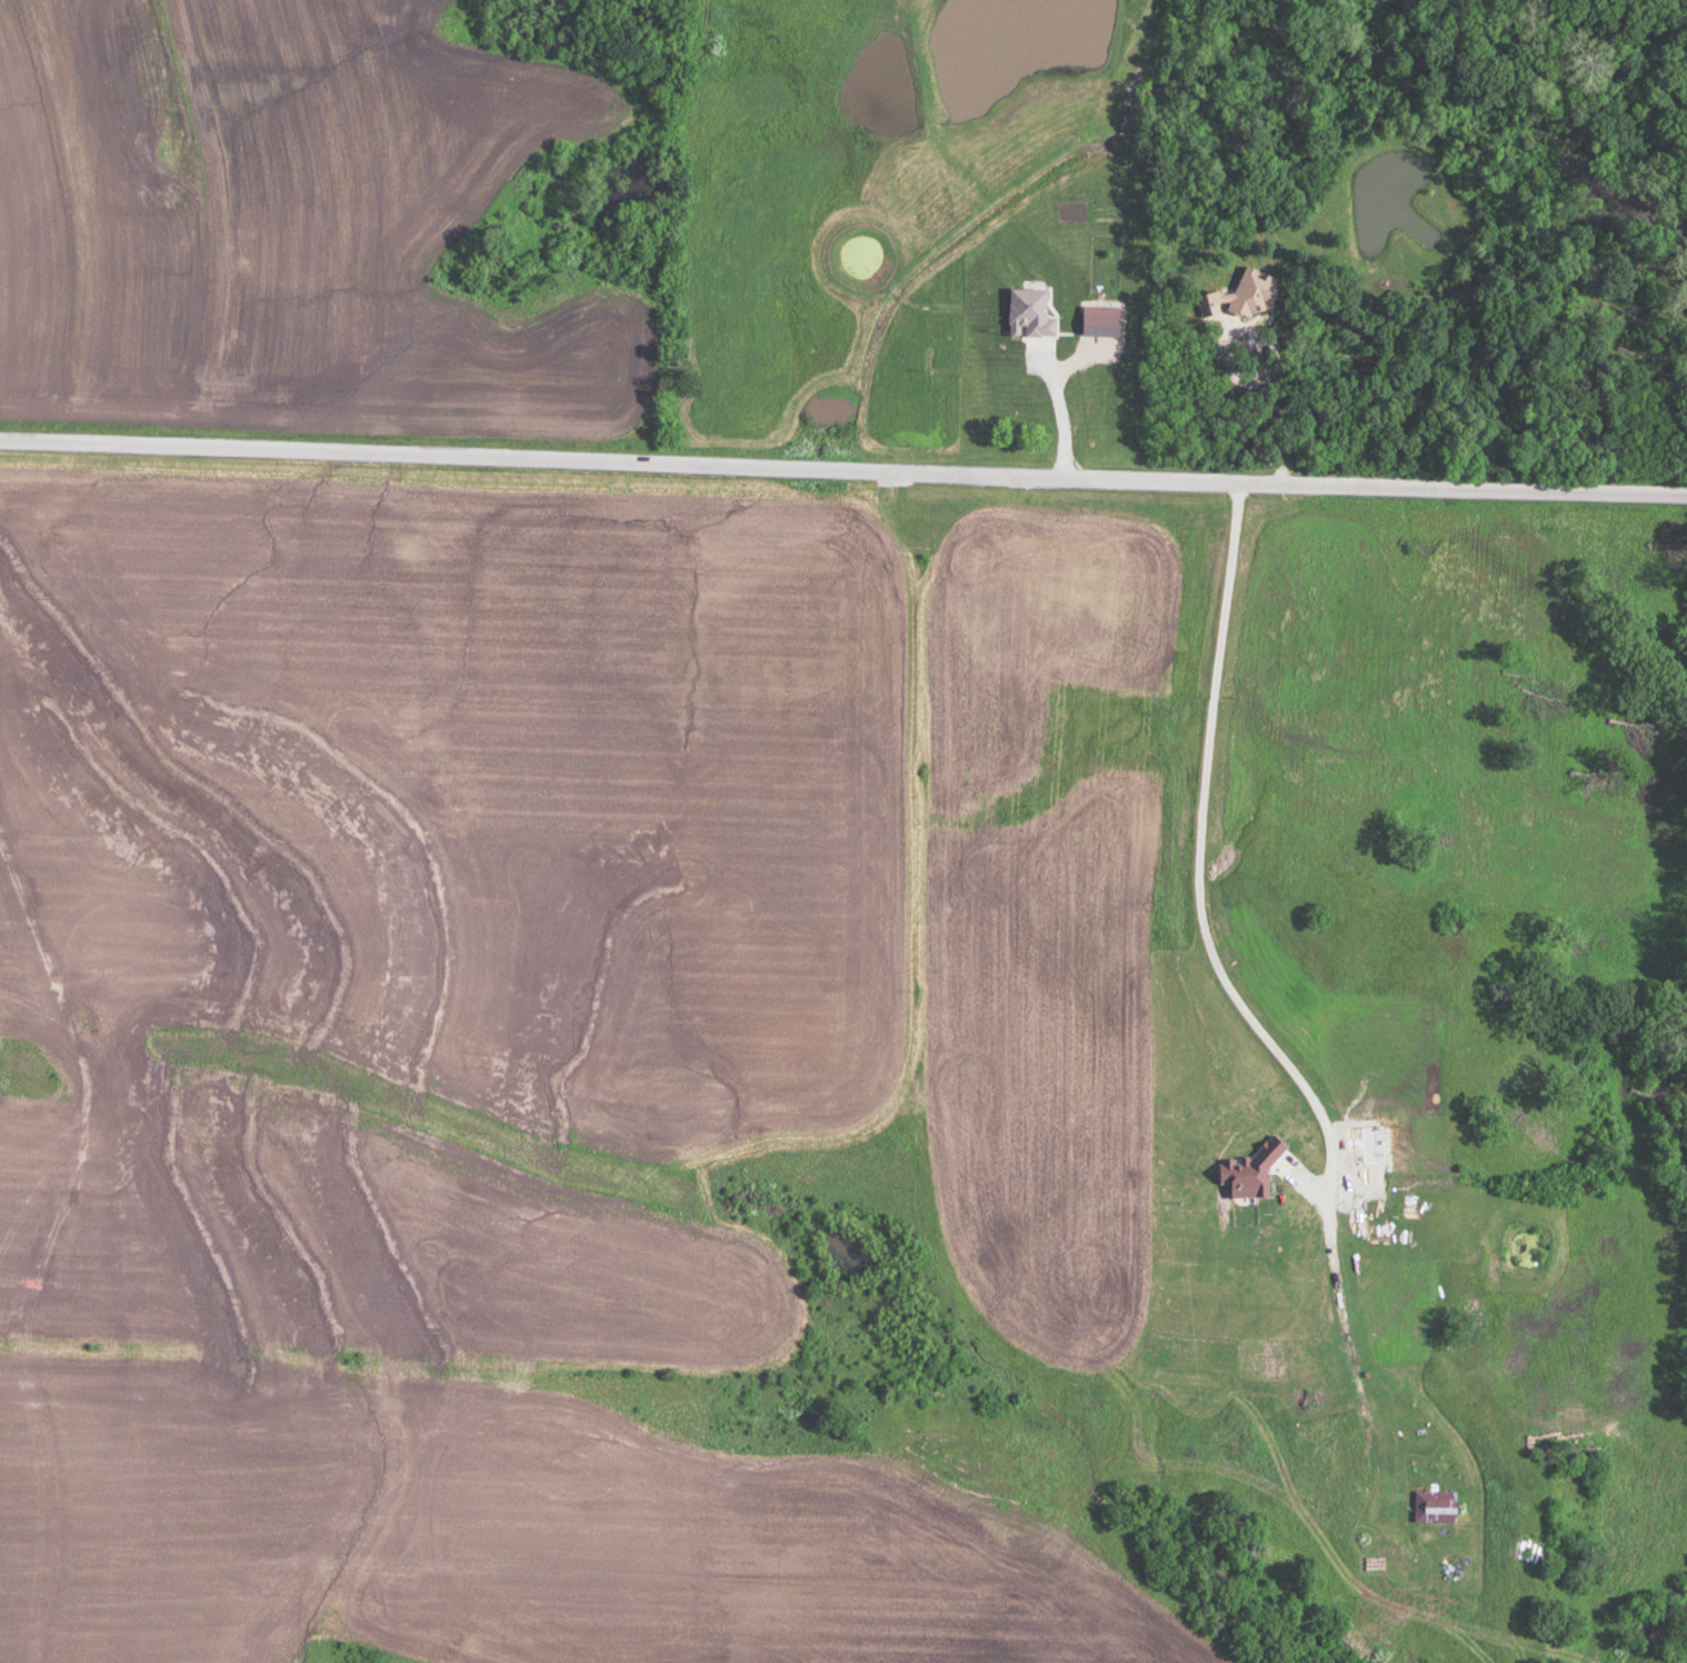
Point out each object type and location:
building: (1242, 292)
building: (1086, 321)
building: (1035, 399)
road: (1268, 402)
road: (1061, 409)
road: (843, 472)
road: (1198, 867)
building: (1436, 1505)

